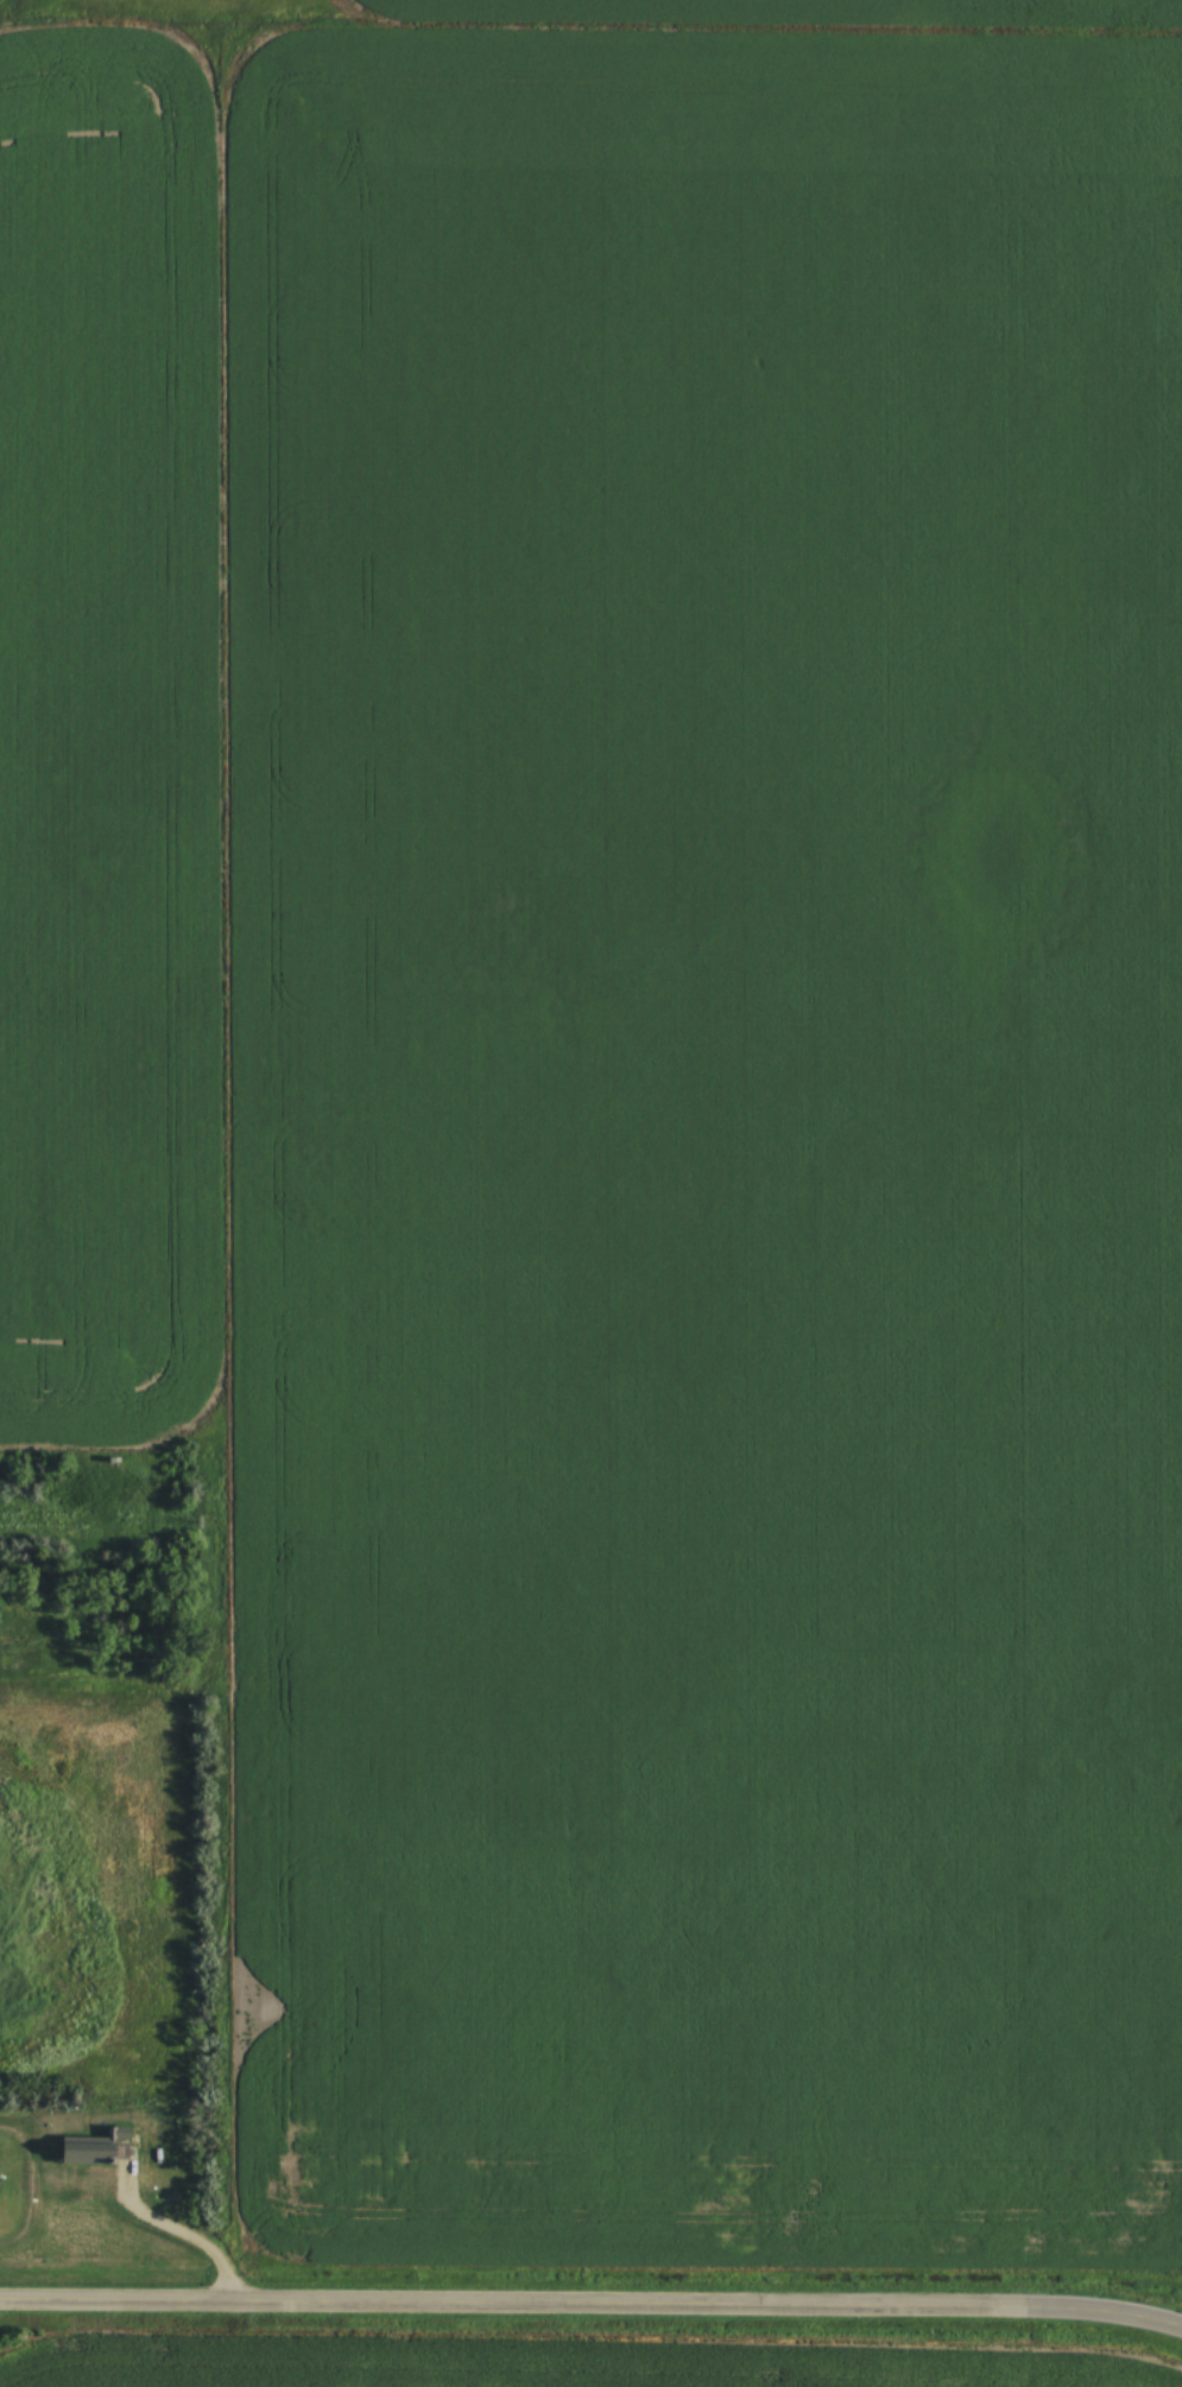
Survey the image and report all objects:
road: (592, 2293)

